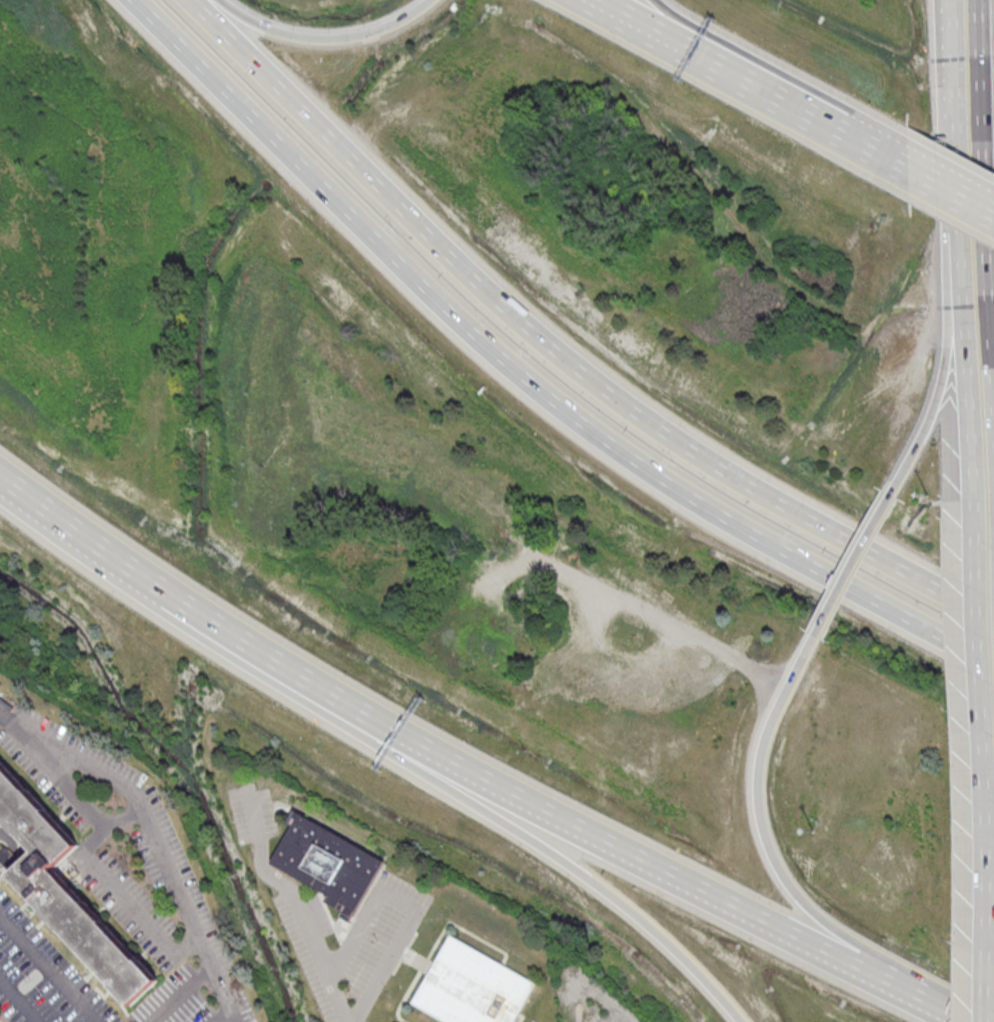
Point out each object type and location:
road: (600, 3)
road: (324, 37)
road: (244, 52)
road: (723, 68)
road: (745, 68)
road: (205, 69)
road: (951, 115)
river: (307, 140)
road: (874, 149)
road: (951, 190)
road: (983, 194)
road: (944, 368)
road: (963, 382)
road: (618, 398)
road: (607, 438)
road: (78, 531)
road: (852, 564)
road: (976, 630)
road: (499, 784)
road: (459, 792)
road: (756, 806)
road: (158, 838)
road: (982, 842)
road: (89, 847)
building: (327, 862)
building: (69, 890)
road: (295, 902)
road: (48, 969)
building: (471, 987)
road: (907, 989)
road: (983, 990)
road: (184, 993)
road: (19, 1000)
road: (236, 1015)
road: (966, 1019)
road: (967, 1019)

